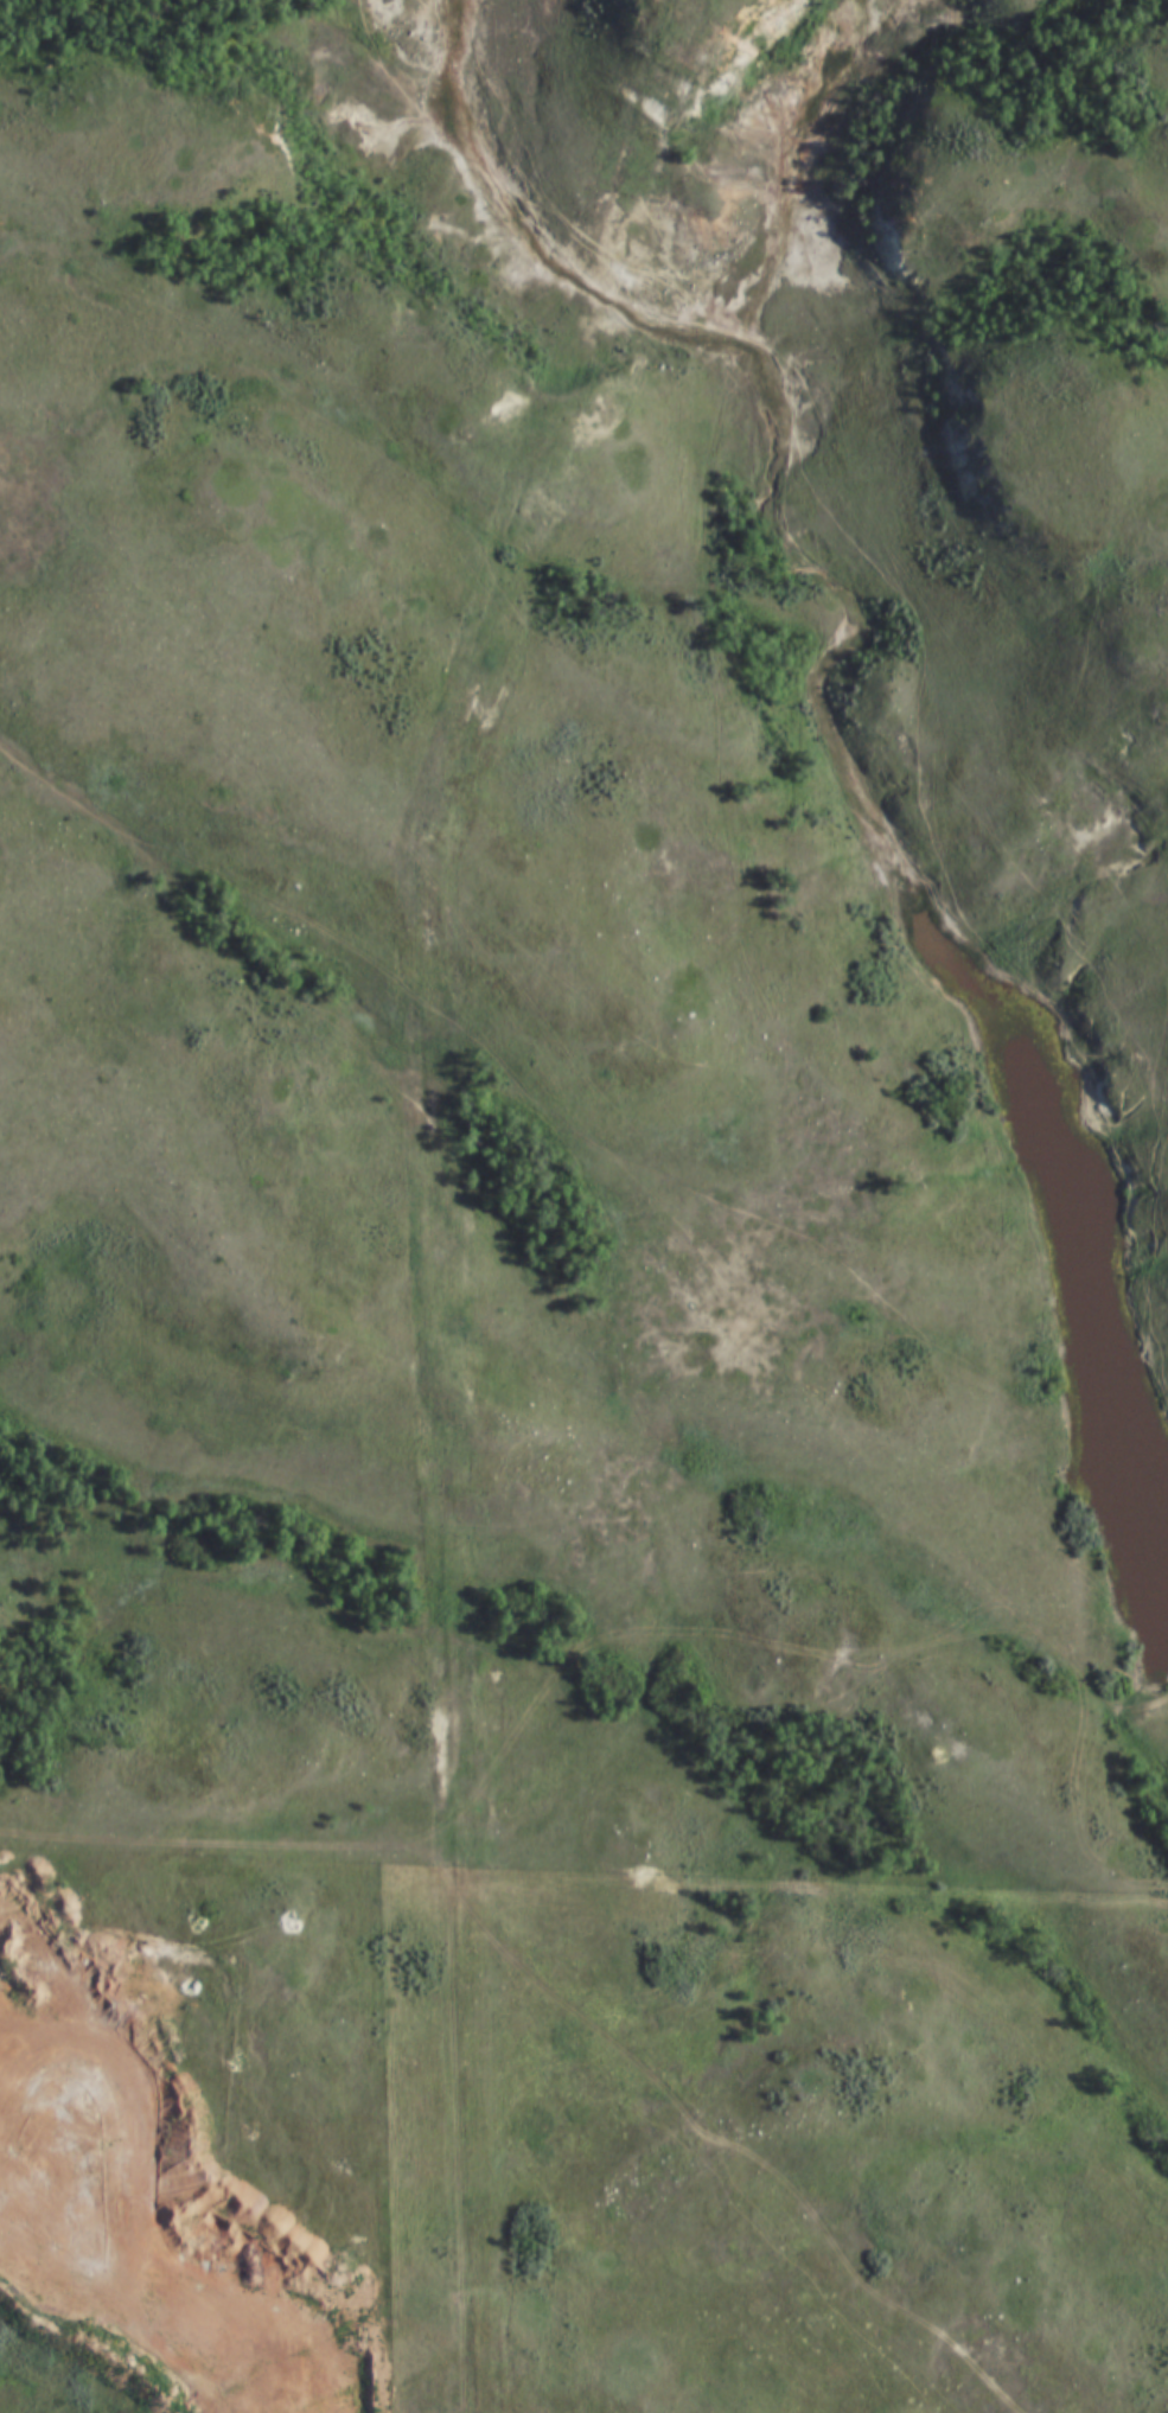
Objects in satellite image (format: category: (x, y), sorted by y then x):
quarry: (113, 2131)

